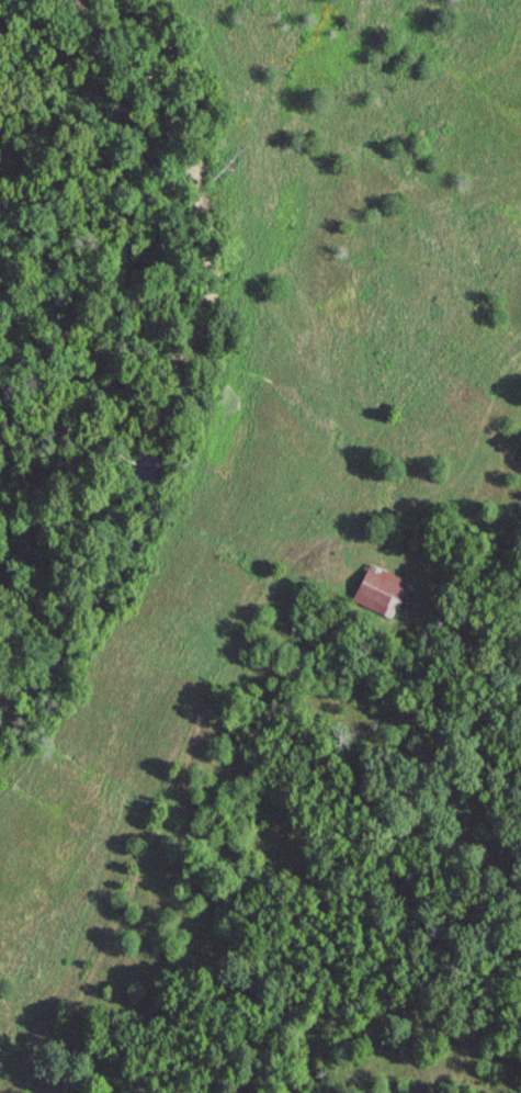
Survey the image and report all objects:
building: (385, 590)
road: (224, 680)

